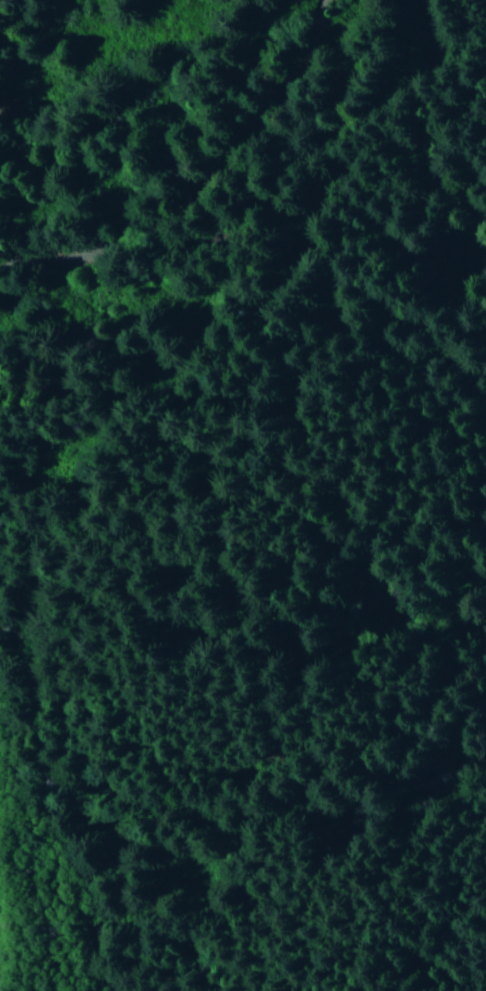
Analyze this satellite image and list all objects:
road: (220, 196)

